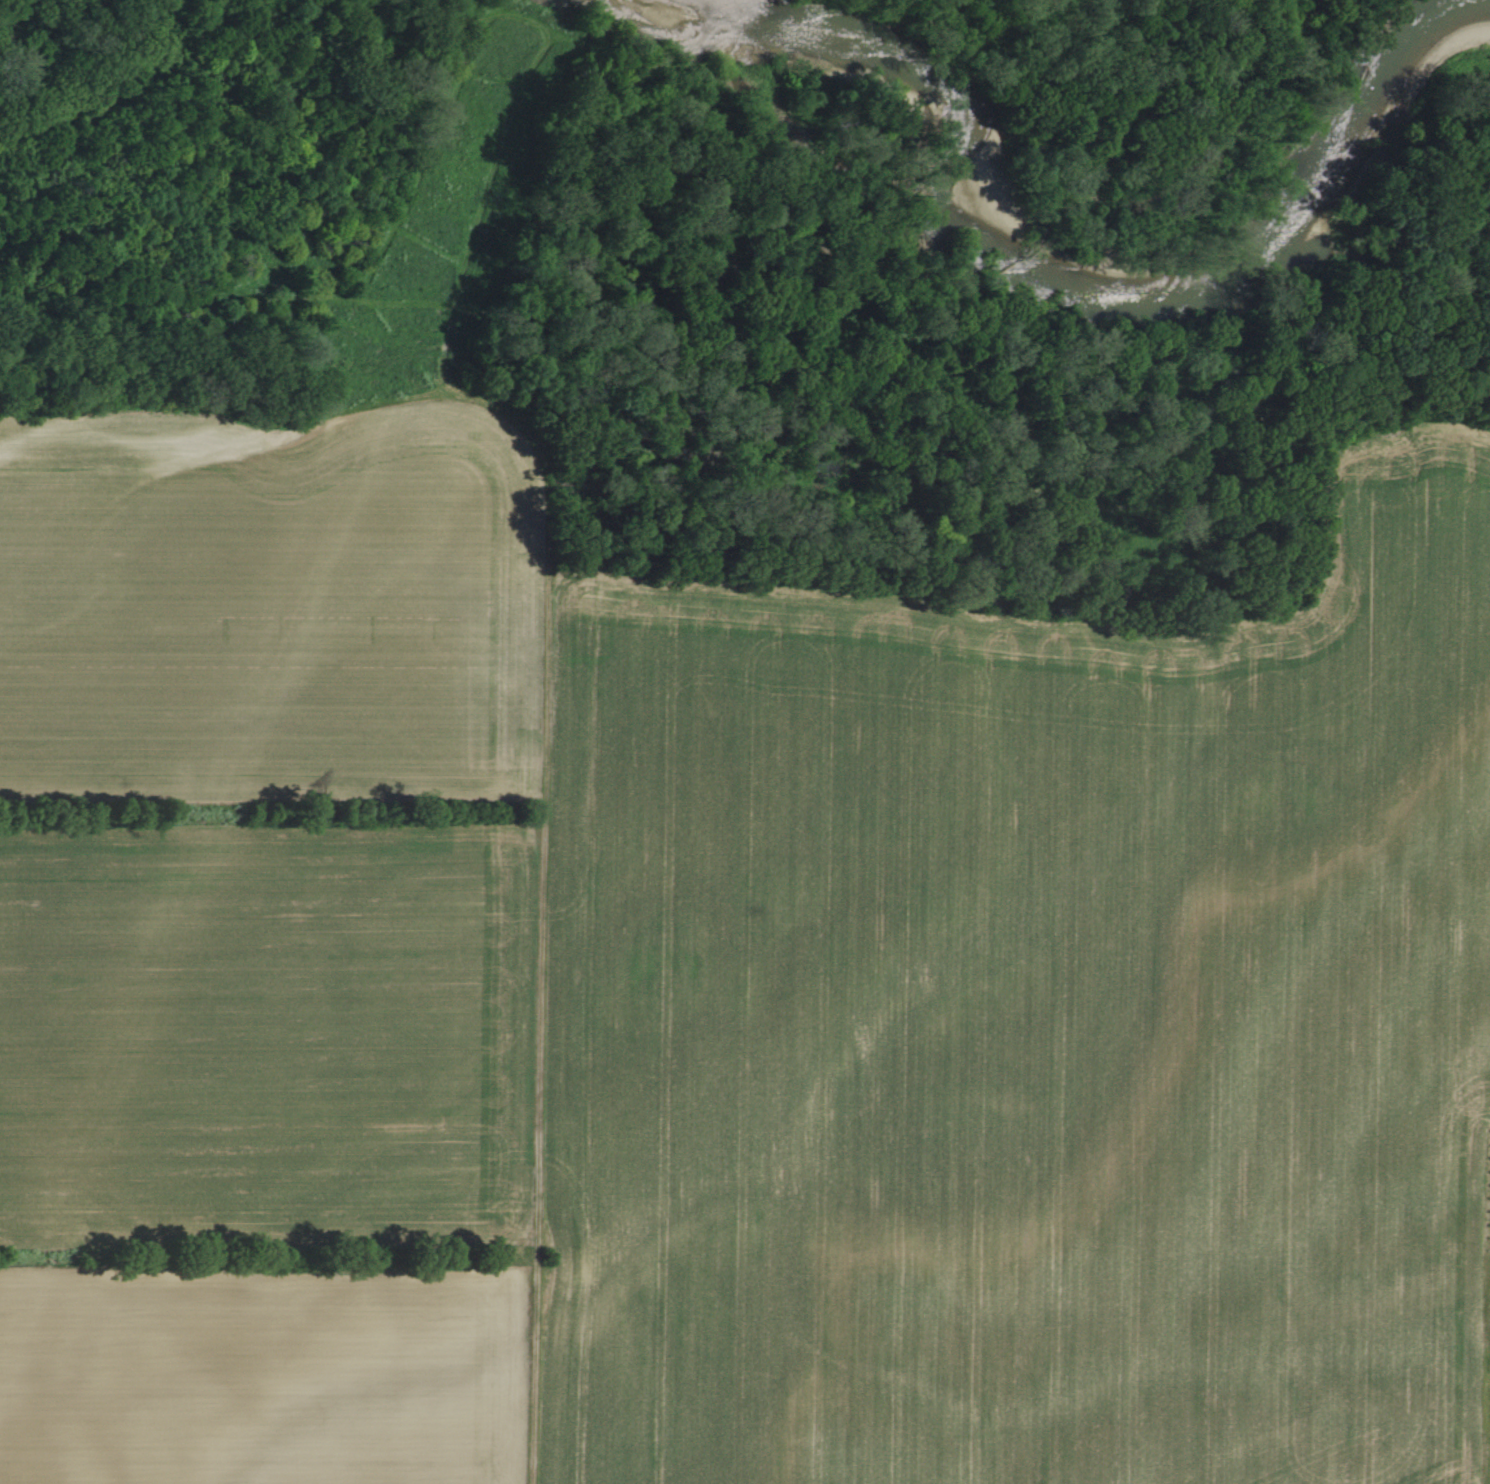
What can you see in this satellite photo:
river: (1077, 270)

